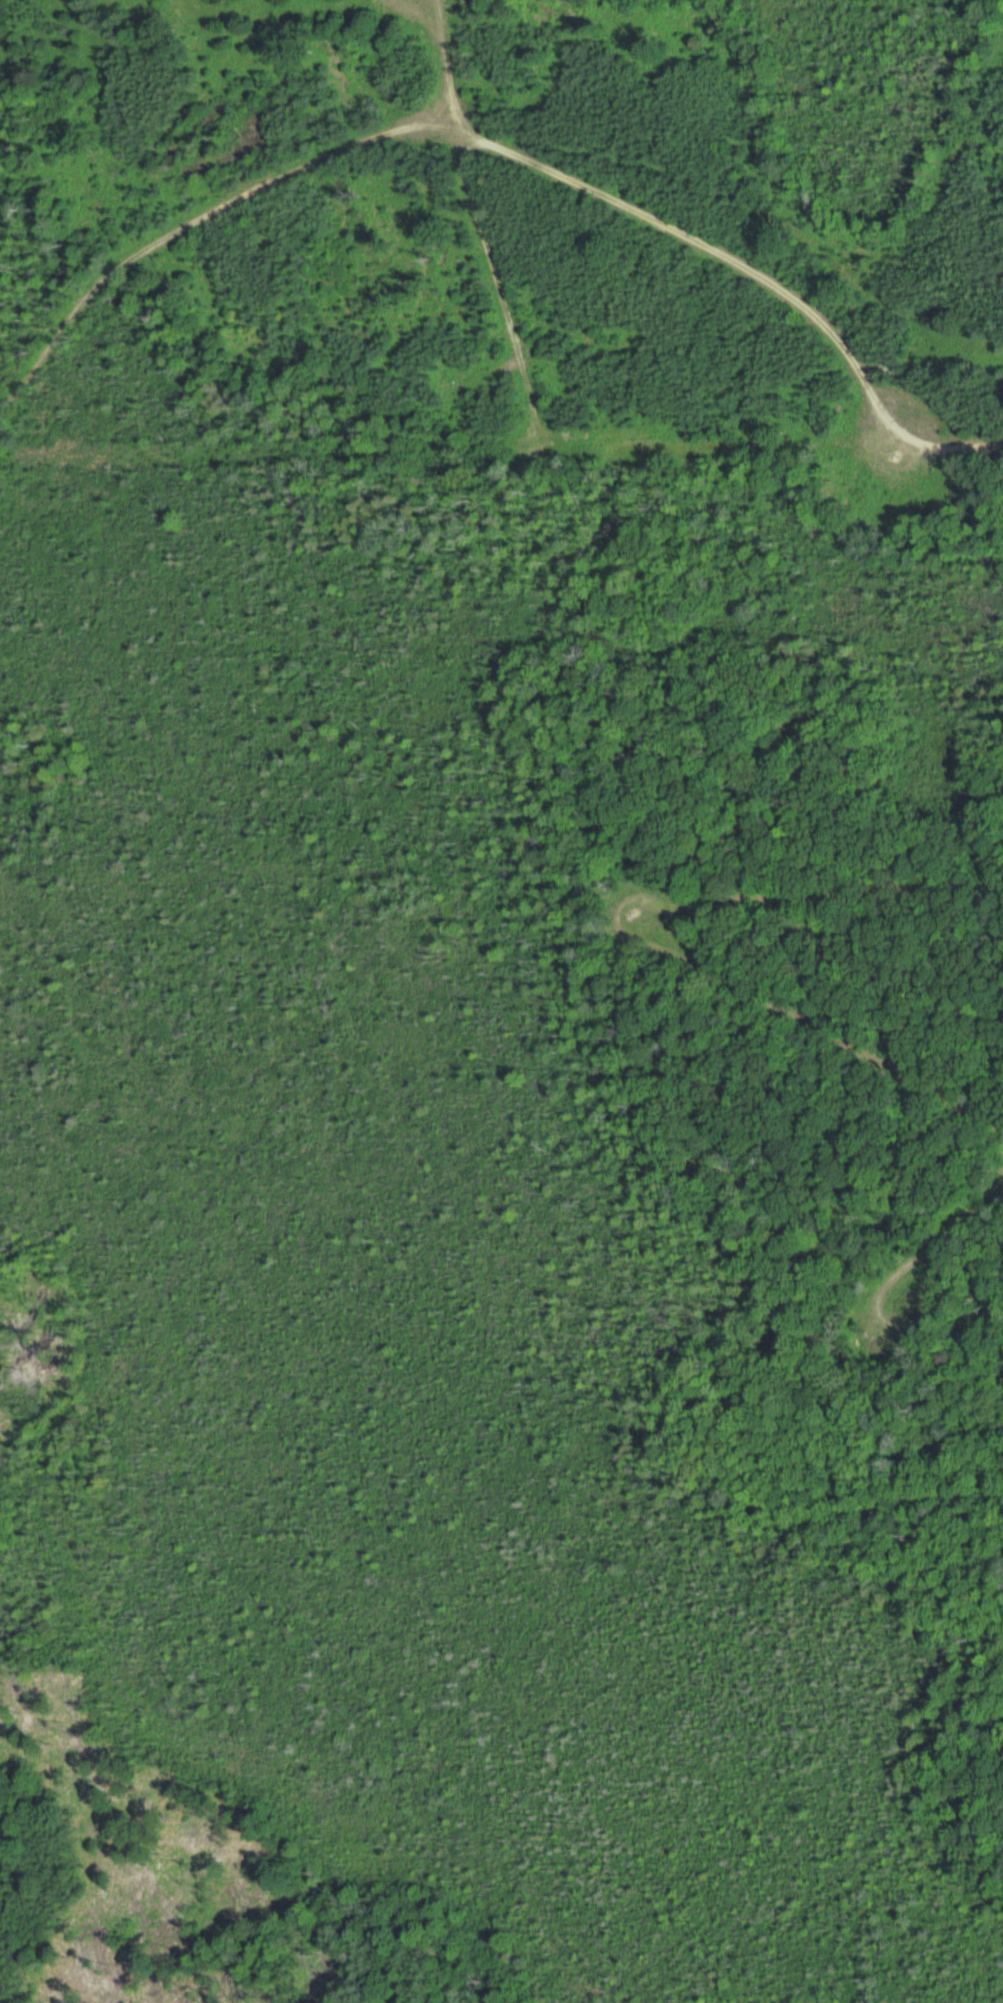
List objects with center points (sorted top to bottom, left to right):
road: (437, 13)
road: (418, 14)
road: (196, 217)
road: (705, 246)
road: (620, 906)
road: (848, 1040)
road: (970, 1220)
road: (888, 1323)

